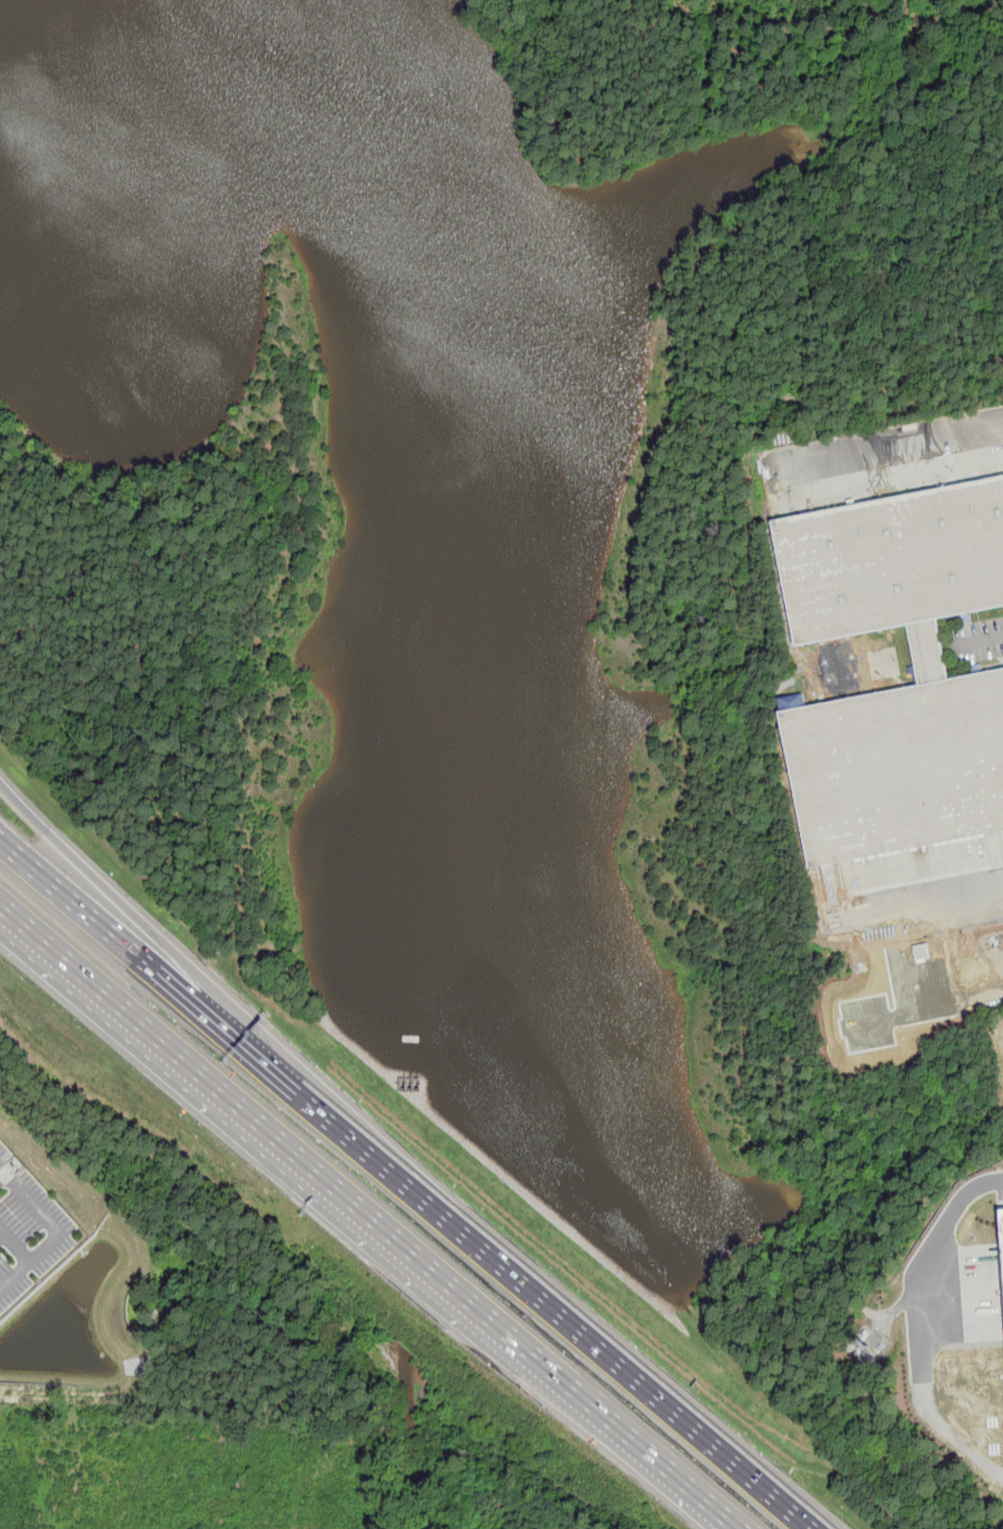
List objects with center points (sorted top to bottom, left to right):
road: (887, 439)
building: (894, 562)
road: (983, 641)
building: (792, 701)
building: (898, 769)
road: (0, 836)
road: (939, 905)
road: (131, 920)
building: (921, 951)
road: (950, 964)
road: (895, 965)
building: (923, 972)
road: (923, 1010)
road: (303, 1151)
road: (3, 1179)
road: (411, 1186)
building: (1002, 1220)
parking lot: (28, 1230)
road: (59, 1231)
road: (3, 1237)
road: (15, 1245)
road: (925, 1330)
building: (862, 1338)
building: (862, 1359)
road: (678, 1467)

